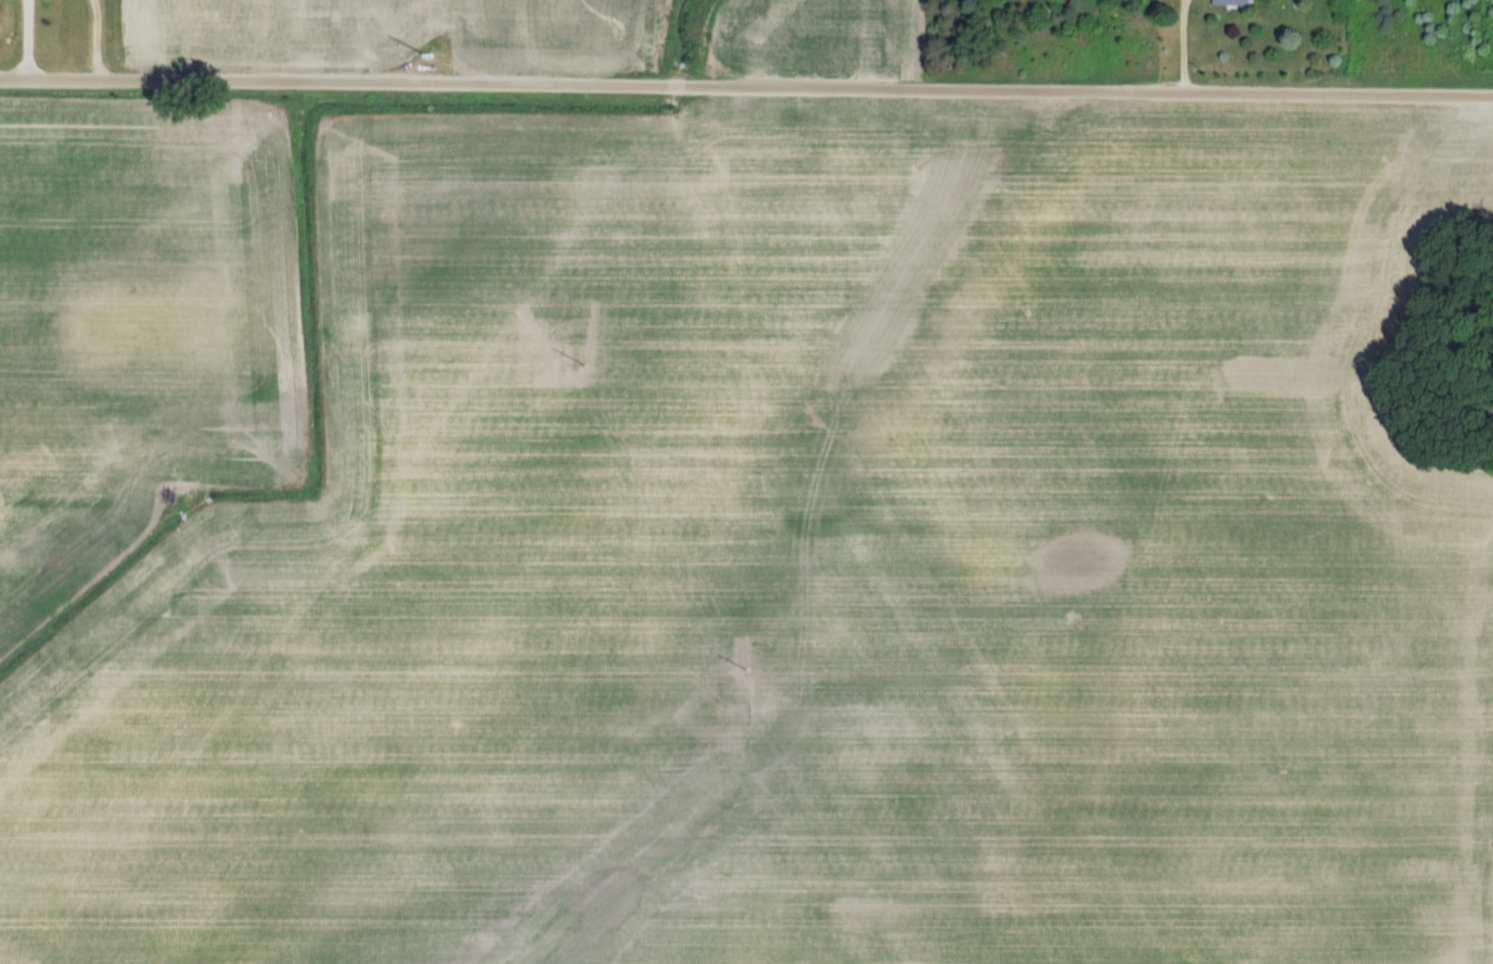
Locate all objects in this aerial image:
building: (1232, 2)
road: (13, 39)
road: (84, 39)
road: (1183, 46)
road: (746, 87)

